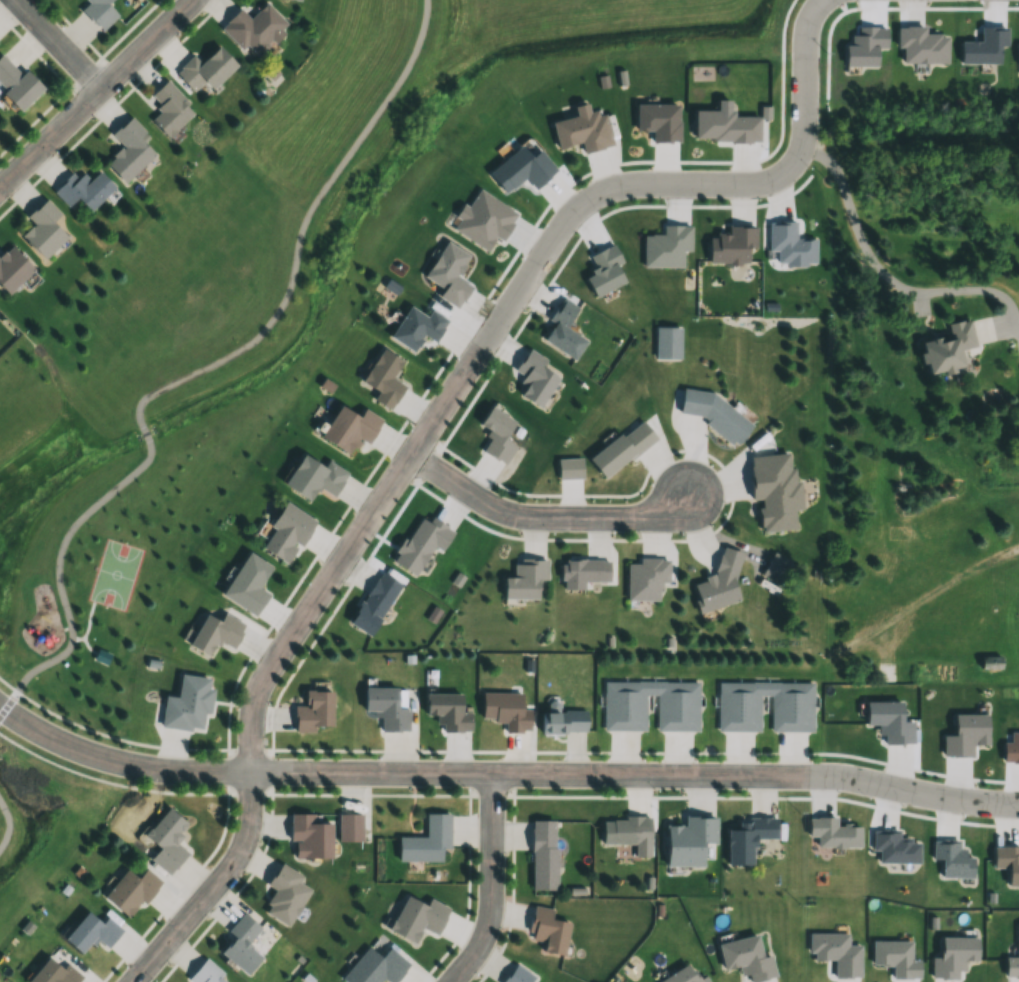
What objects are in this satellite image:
building: (99, 12)
building: (253, 28)
road: (57, 44)
building: (205, 69)
building: (17, 83)
road: (95, 92)
building: (169, 109)
building: (128, 150)
road: (685, 175)
building: (83, 188)
building: (42, 229)
building: (12, 268)
road: (885, 283)
building: (667, 342)
building: (948, 346)
road: (199, 370)
building: (384, 378)
building: (715, 413)
building: (349, 429)
building: (497, 435)
building: (622, 448)
building: (314, 477)
road: (543, 516)
building: (286, 532)
building: (775, 567)
park: (104, 570)
park: (116, 573)
building: (585, 573)
building: (525, 578)
building: (646, 578)
building: (719, 582)
building: (247, 583)
road: (923, 596)
building: (374, 603)
road: (84, 624)
road: (64, 629)
building: (215, 632)
road: (84, 648)
building: (101, 655)
road: (274, 659)
building: (990, 662)
road: (7, 685)
building: (188, 703)
building: (386, 708)
building: (506, 710)
building: (314, 711)
building: (447, 712)
building: (677, 712)
building: (739, 713)
building: (563, 721)
road: (127, 740)
road: (503, 775)
road: (8, 824)
building: (350, 826)
building: (626, 829)
building: (310, 836)
building: (748, 838)
building: (166, 839)
building: (427, 840)
building: (543, 854)
road: (491, 884)
building: (131, 890)
building: (285, 894)
building: (417, 917)
building: (548, 930)
building: (91, 932)
building: (241, 944)
building: (376, 966)
building: (54, 973)
building: (205, 973)
building: (518, 975)
building: (683, 976)

